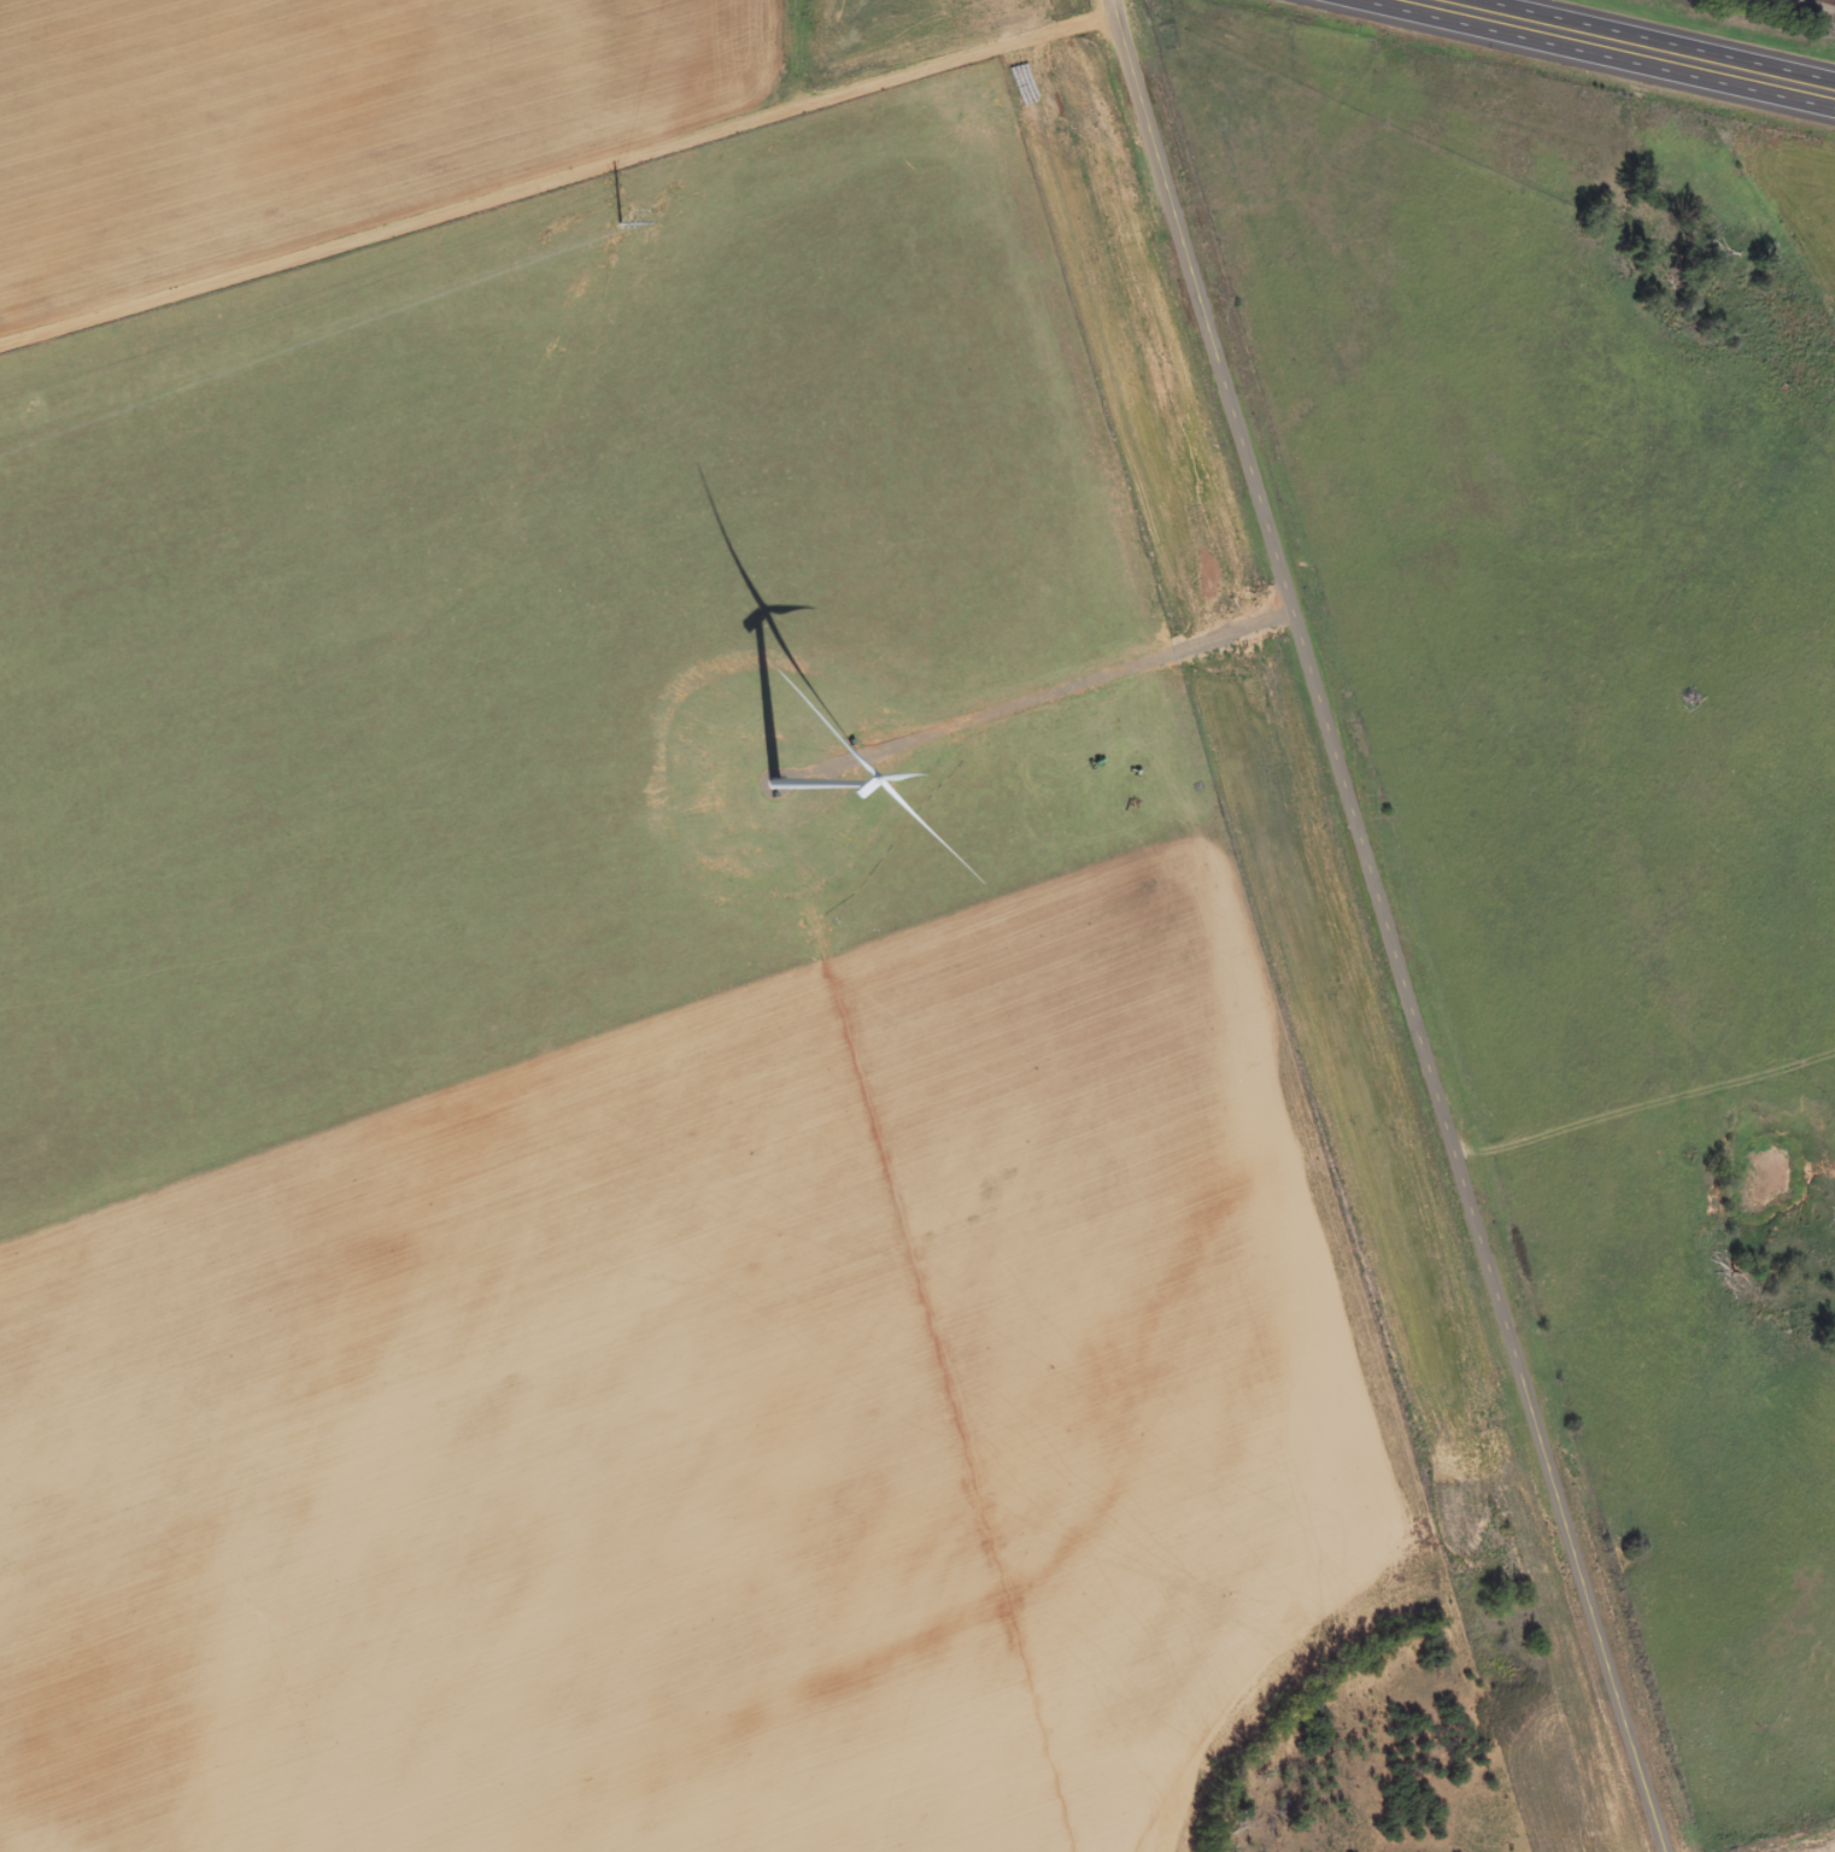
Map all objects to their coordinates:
railway: (1831, 0)
road: (1630, 43)
road: (559, 180)
power tower: (621, 221)
wind turbine: (775, 780)
road: (1393, 926)

